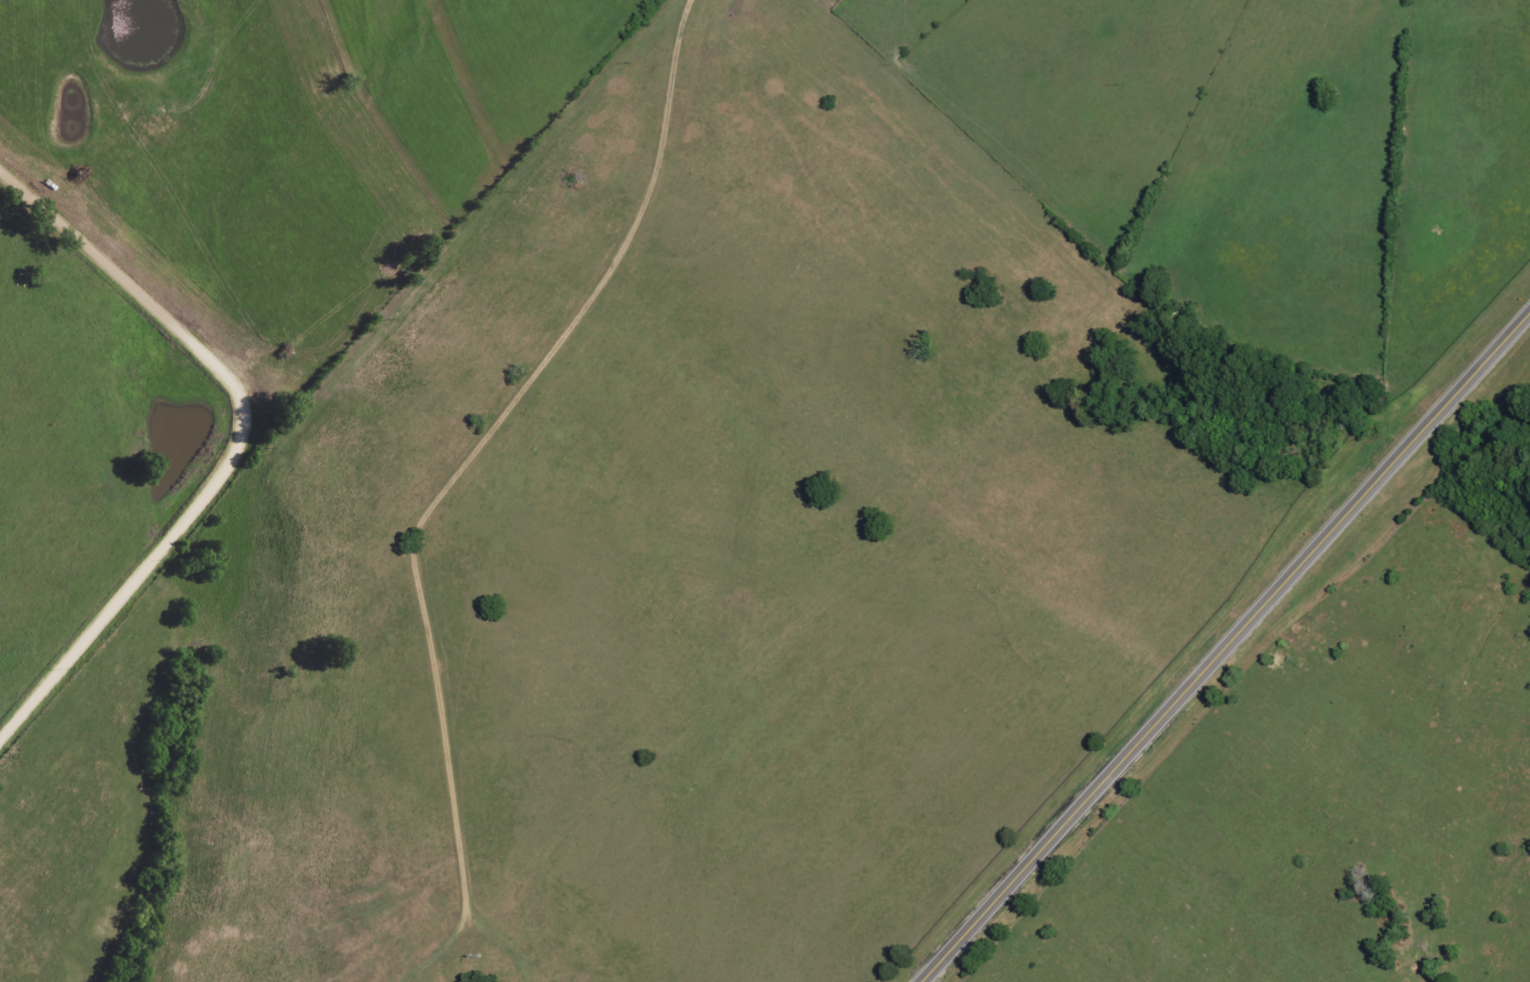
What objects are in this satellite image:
road: (239, 443)
road: (1226, 647)
road: (513, 966)

